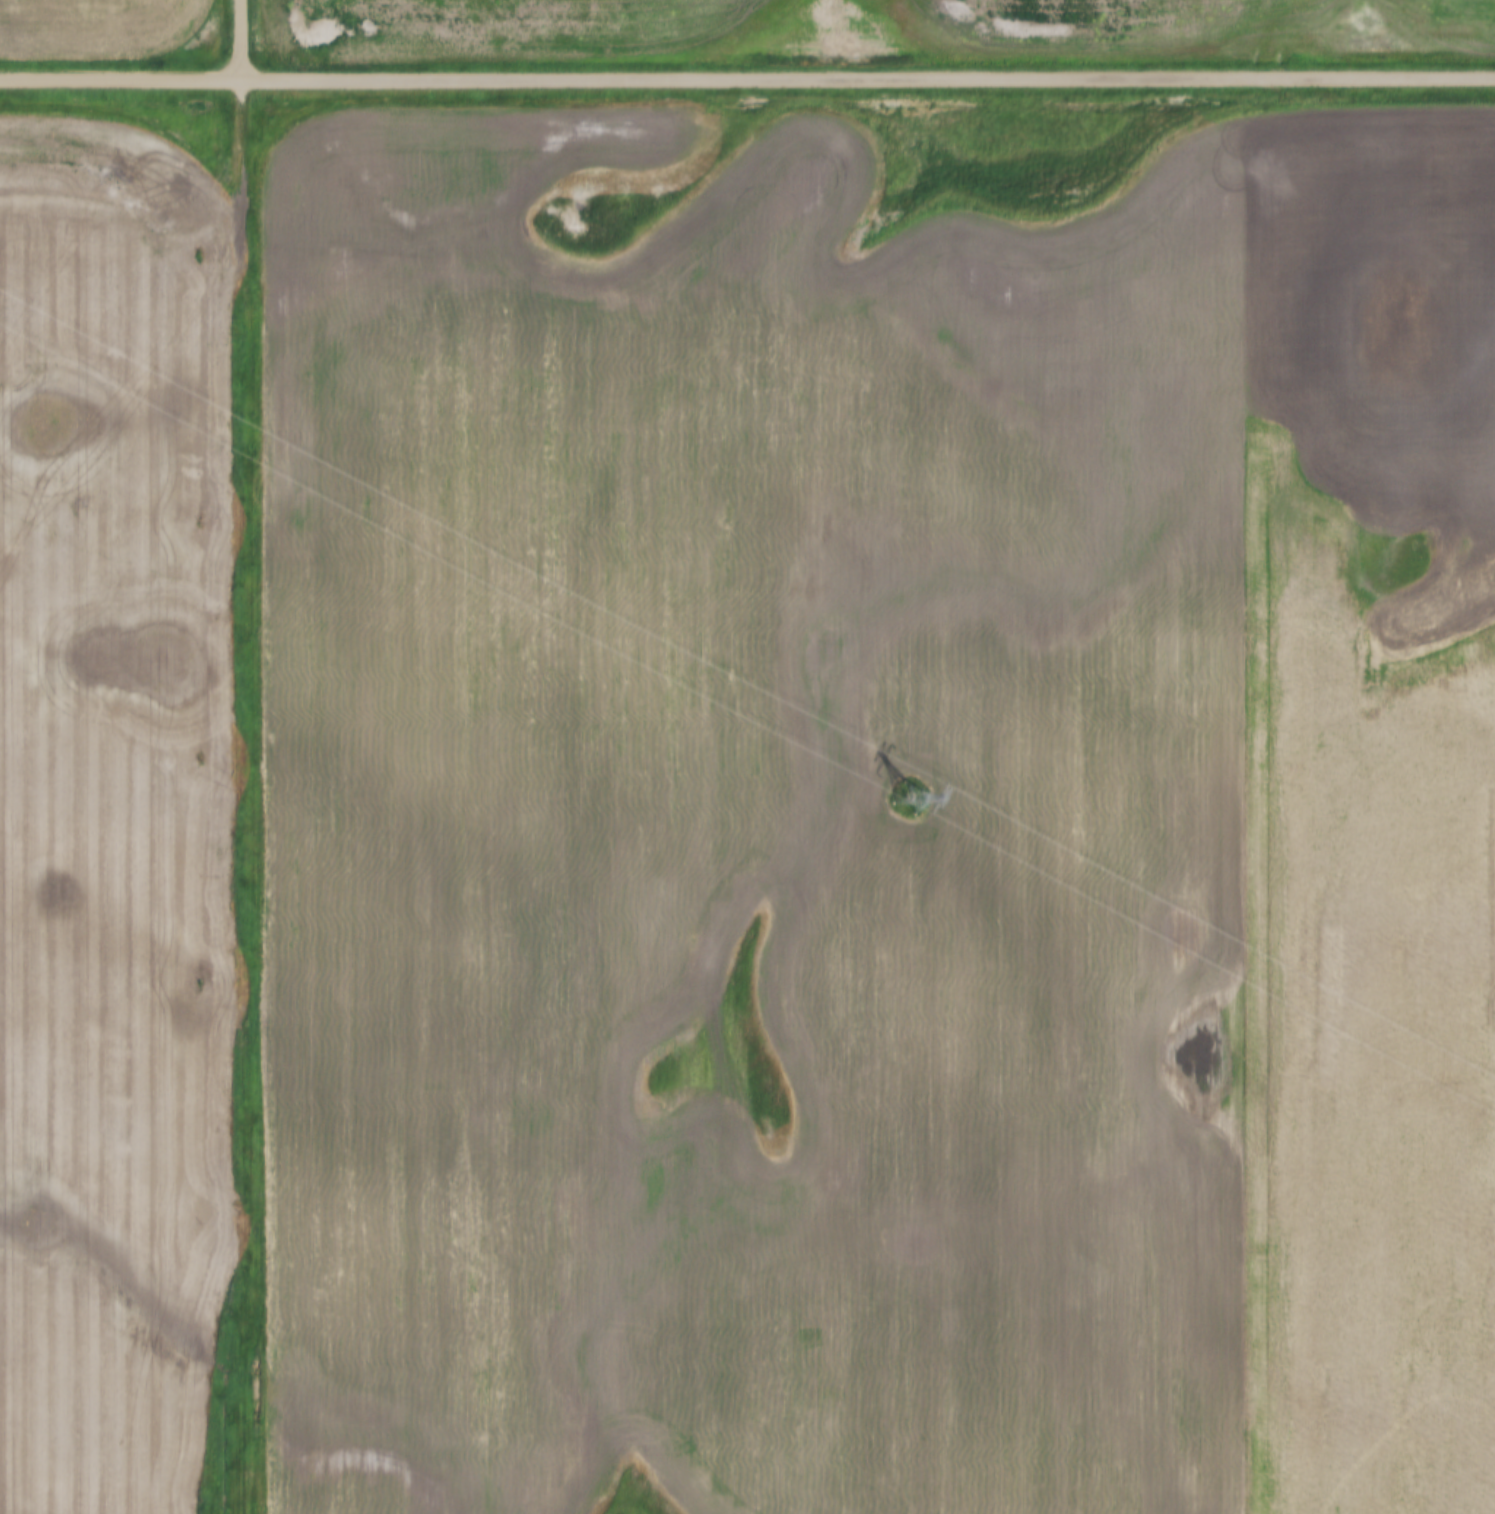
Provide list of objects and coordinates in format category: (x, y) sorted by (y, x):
road: (246, 38)
road: (747, 77)
road: (245, 795)
power tower: (911, 797)

